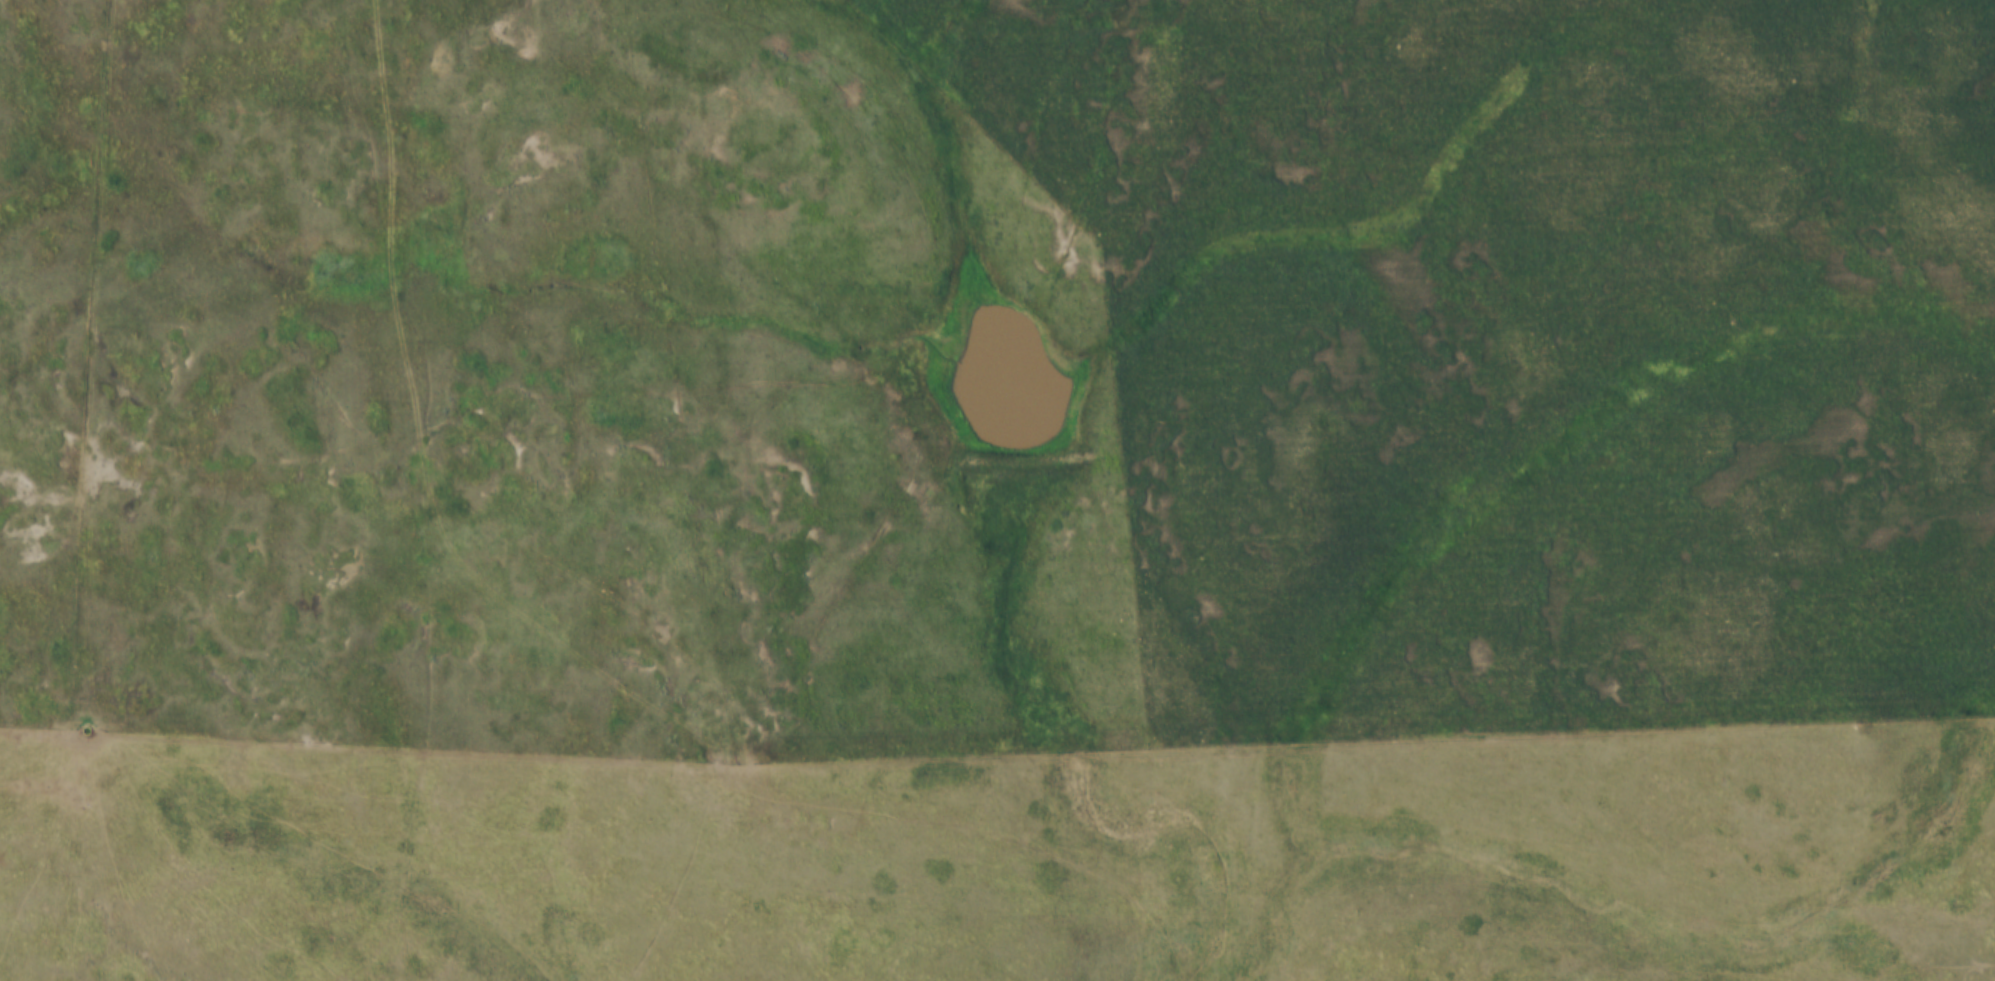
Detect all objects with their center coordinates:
road: (1633, 246)
dam: (1026, 446)

